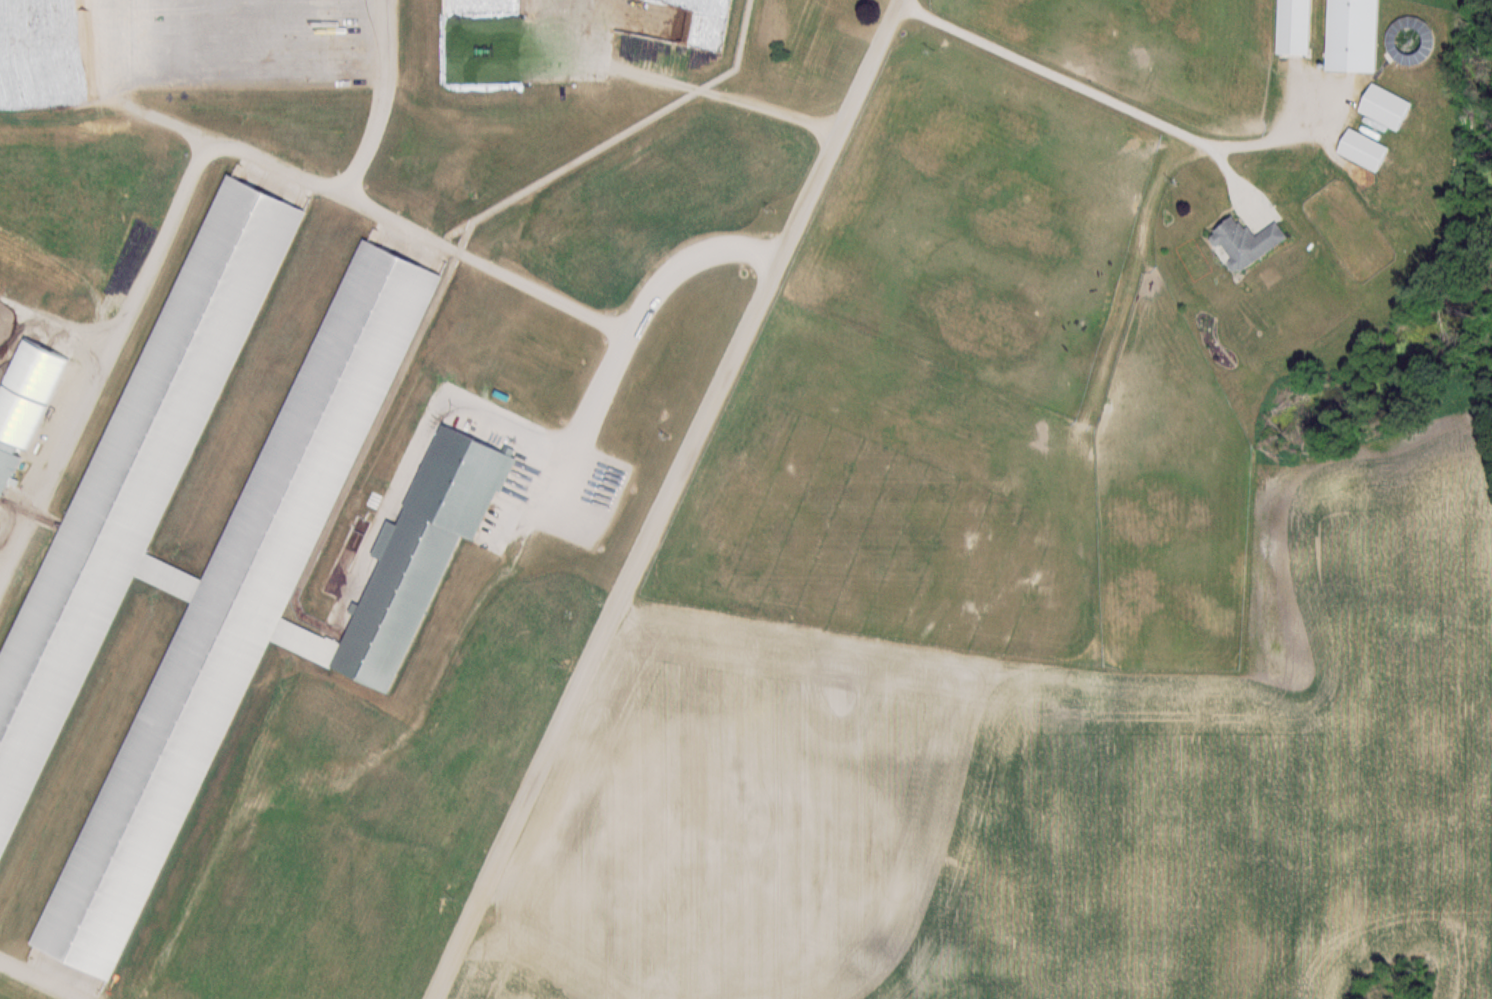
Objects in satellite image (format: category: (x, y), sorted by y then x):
building: (1298, 27)
building: (1358, 35)
building: (1413, 41)
building: (484, 42)
road: (1072, 76)
building: (1389, 107)
building: (1368, 149)
building: (1252, 242)
road: (476, 258)
road: (130, 279)
road: (574, 394)
road: (666, 503)
road: (43, 977)

